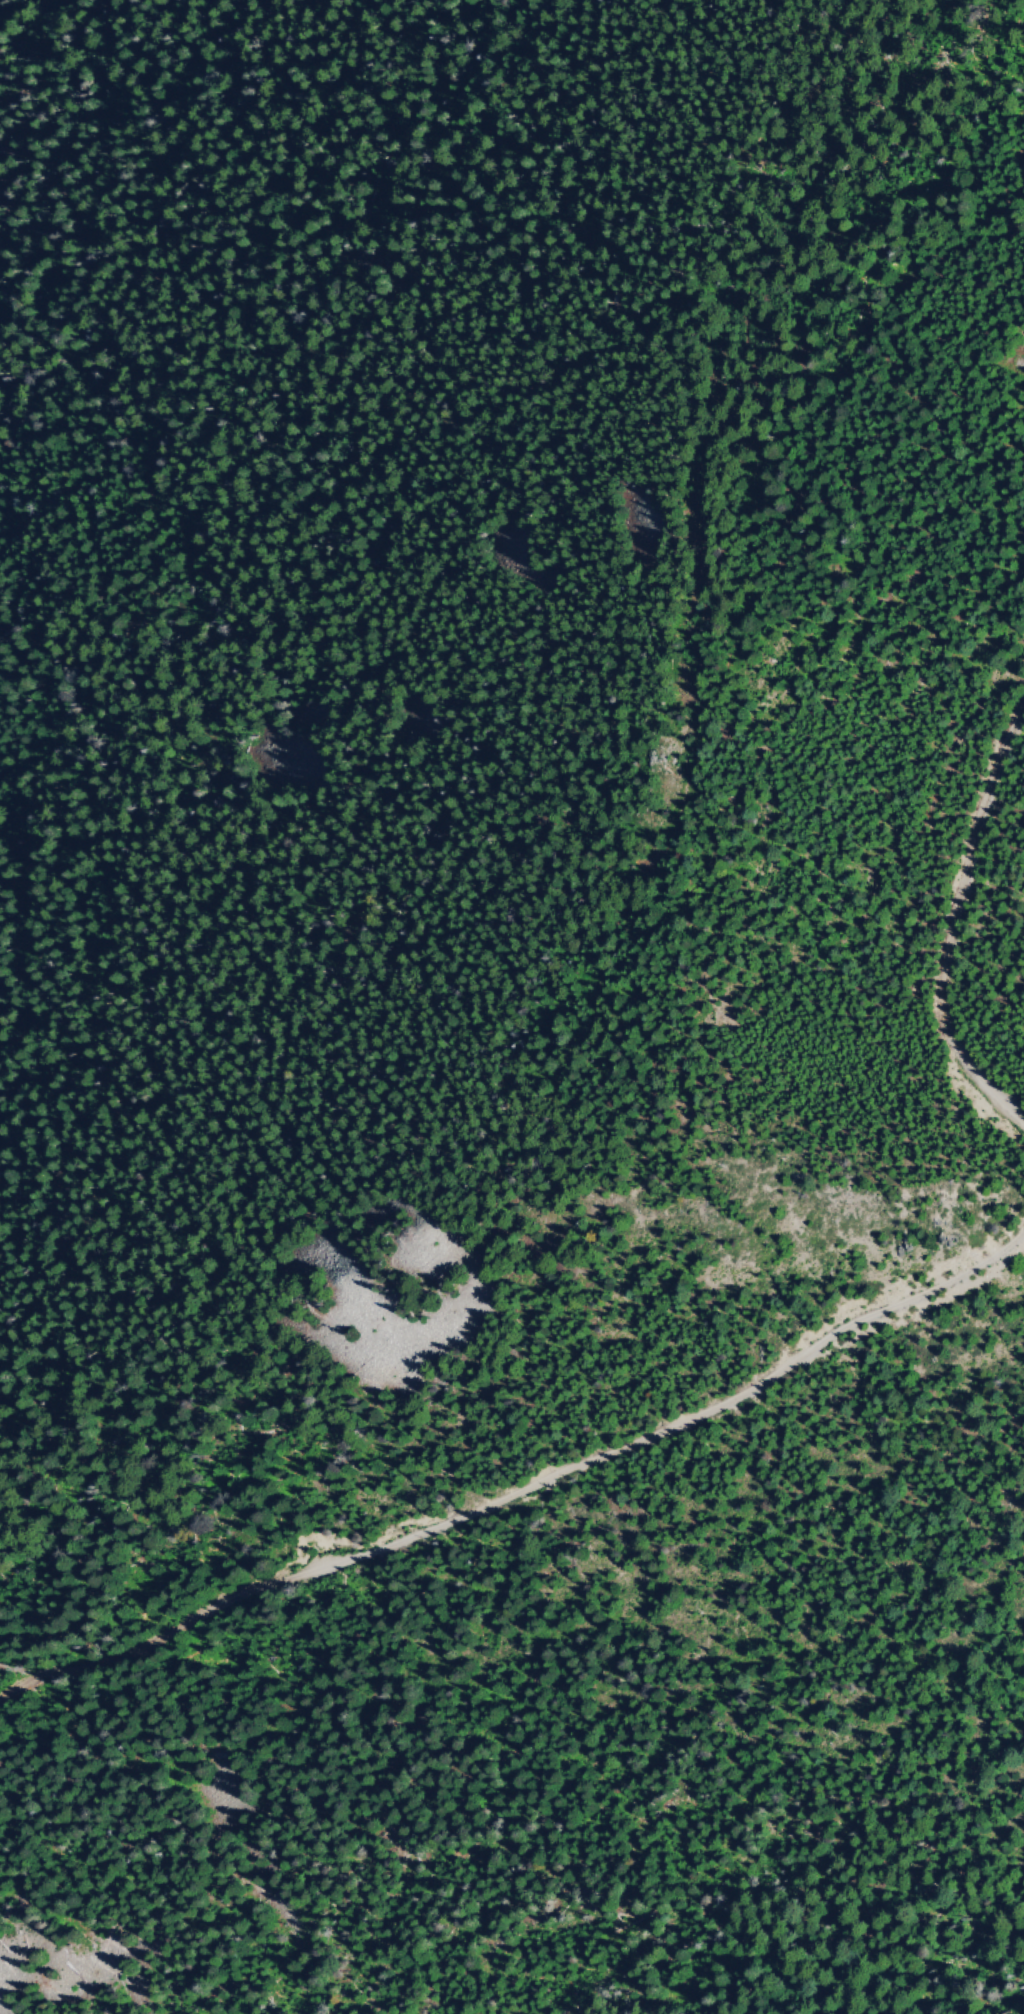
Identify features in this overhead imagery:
road: (920, 111)
road: (614, 912)
road: (955, 919)
road: (519, 1490)

